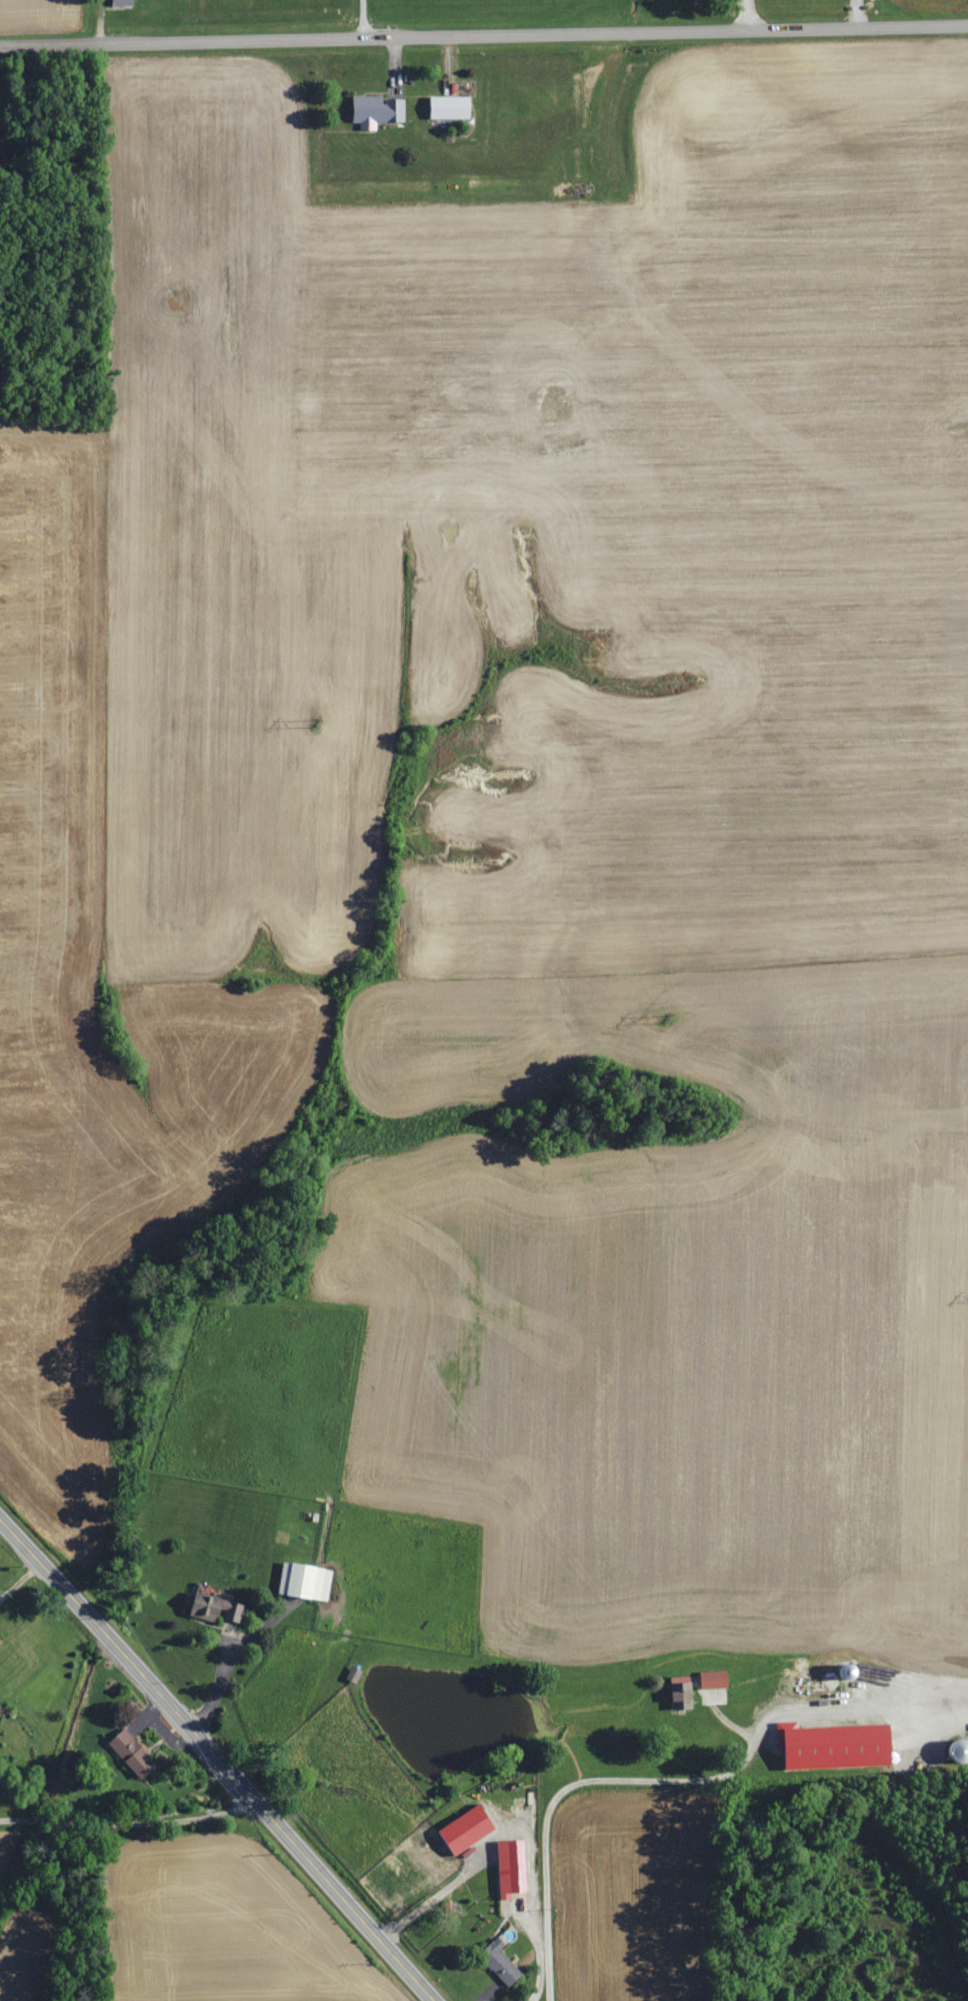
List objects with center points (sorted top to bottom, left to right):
building: (122, 2)
road: (748, 14)
road: (362, 18)
road: (483, 34)
building: (451, 107)
building: (377, 111)
building: (305, 1581)
building: (216, 1609)
building: (0, 1641)
road: (219, 1671)
building: (714, 1679)
building: (683, 1690)
building: (838, 1746)
building: (134, 1754)
road: (218, 1758)
road: (563, 1789)
road: (130, 1822)
building: (467, 1829)
building: (512, 1867)
building: (500, 1962)

